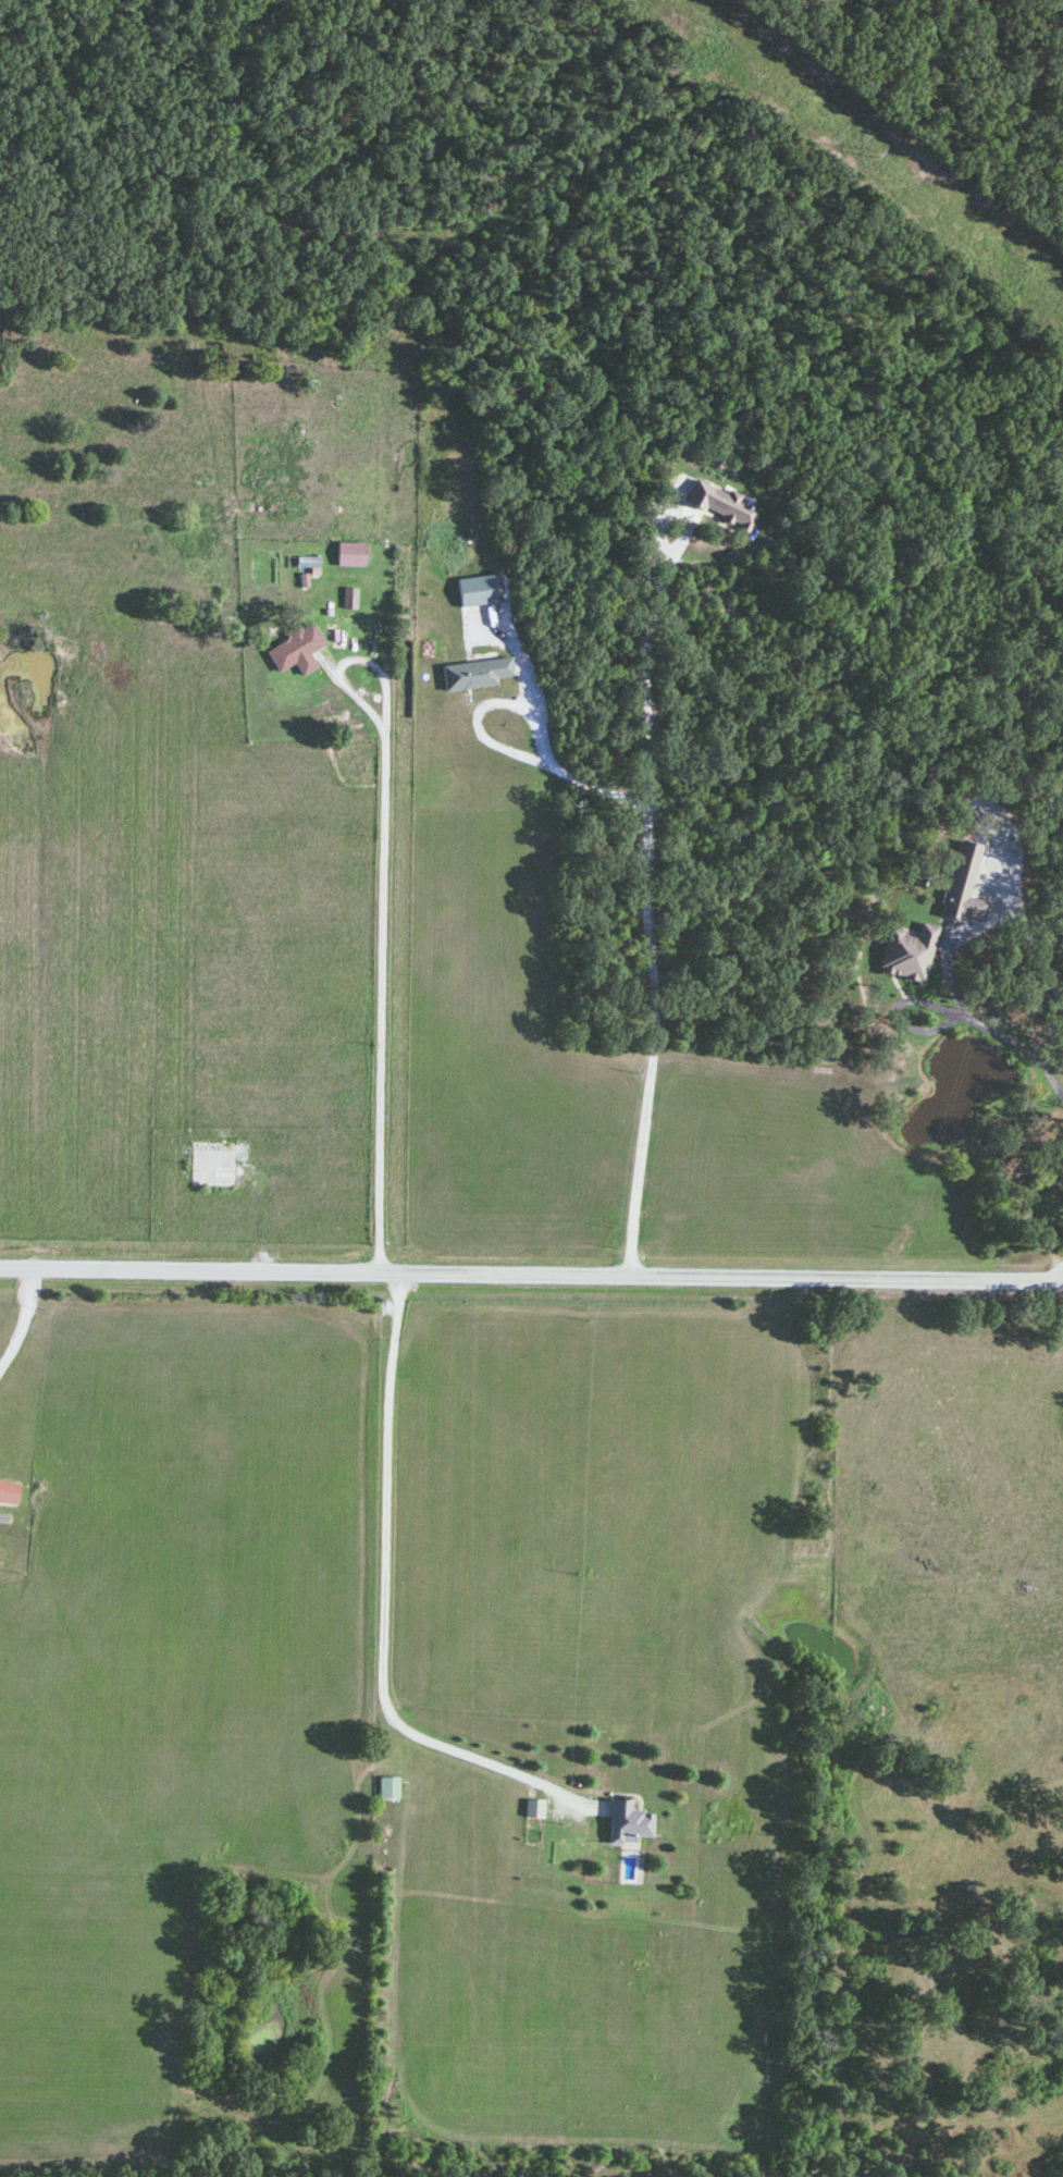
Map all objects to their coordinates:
building: (730, 509)
building: (307, 564)
road: (645, 626)
building: (296, 653)
road: (361, 663)
road: (494, 743)
building: (962, 905)
road: (991, 922)
building: (909, 954)
road: (380, 1000)
road: (897, 1011)
road: (1018, 1044)
road: (653, 1046)
building: (213, 1164)
road: (531, 1275)
road: (27, 1326)
building: (9, 1493)
road: (383, 1601)
building: (388, 1788)
building: (628, 1824)

